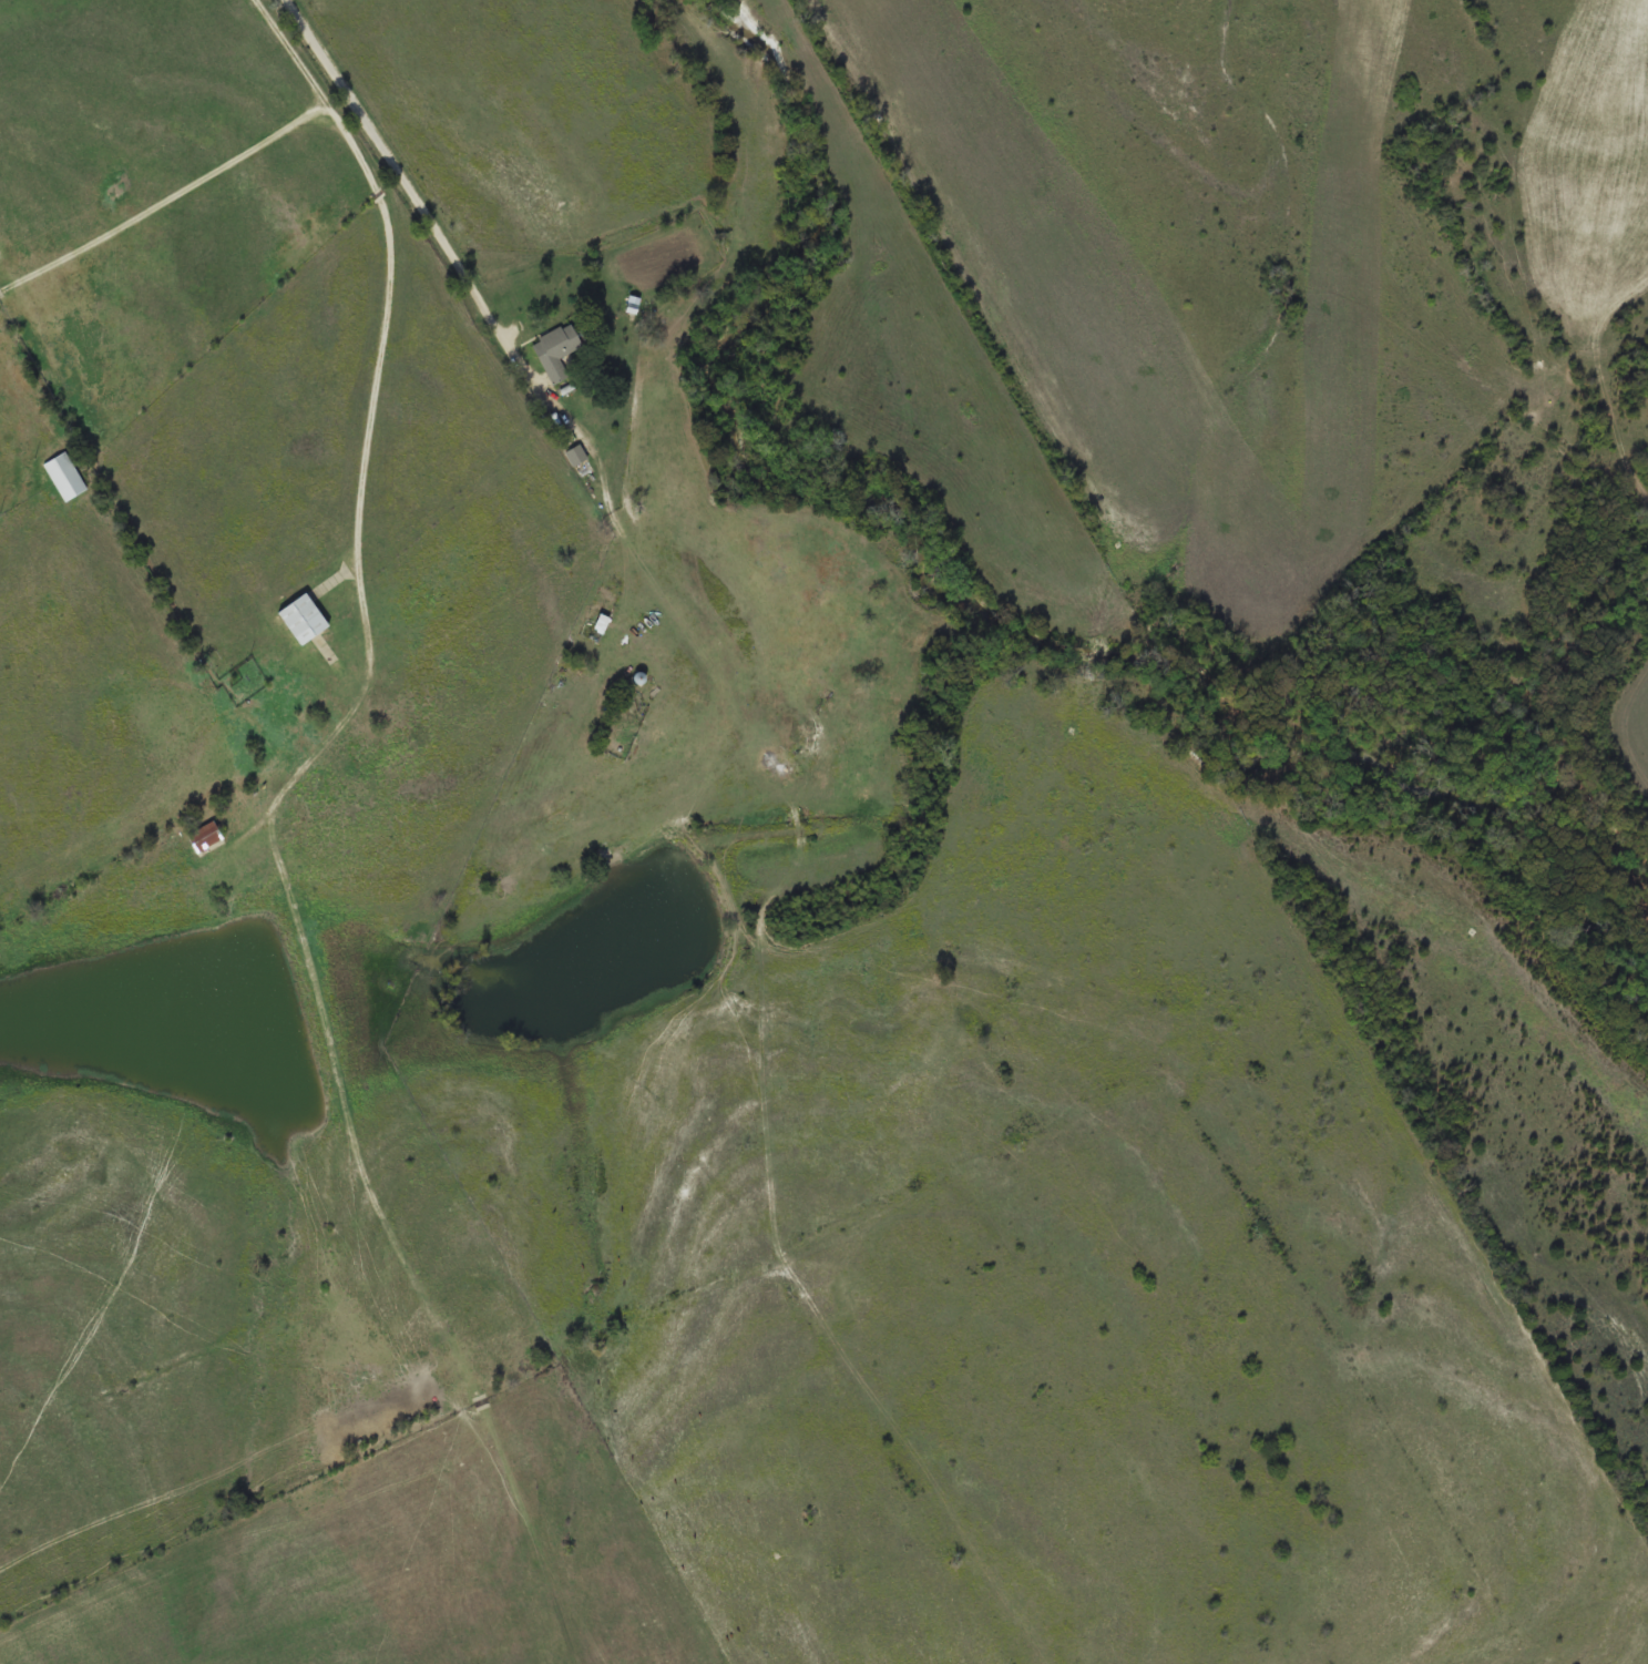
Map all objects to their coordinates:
building: (552, 349)
building: (572, 455)
building: (66, 477)
building: (298, 619)
building: (595, 627)
building: (202, 838)

